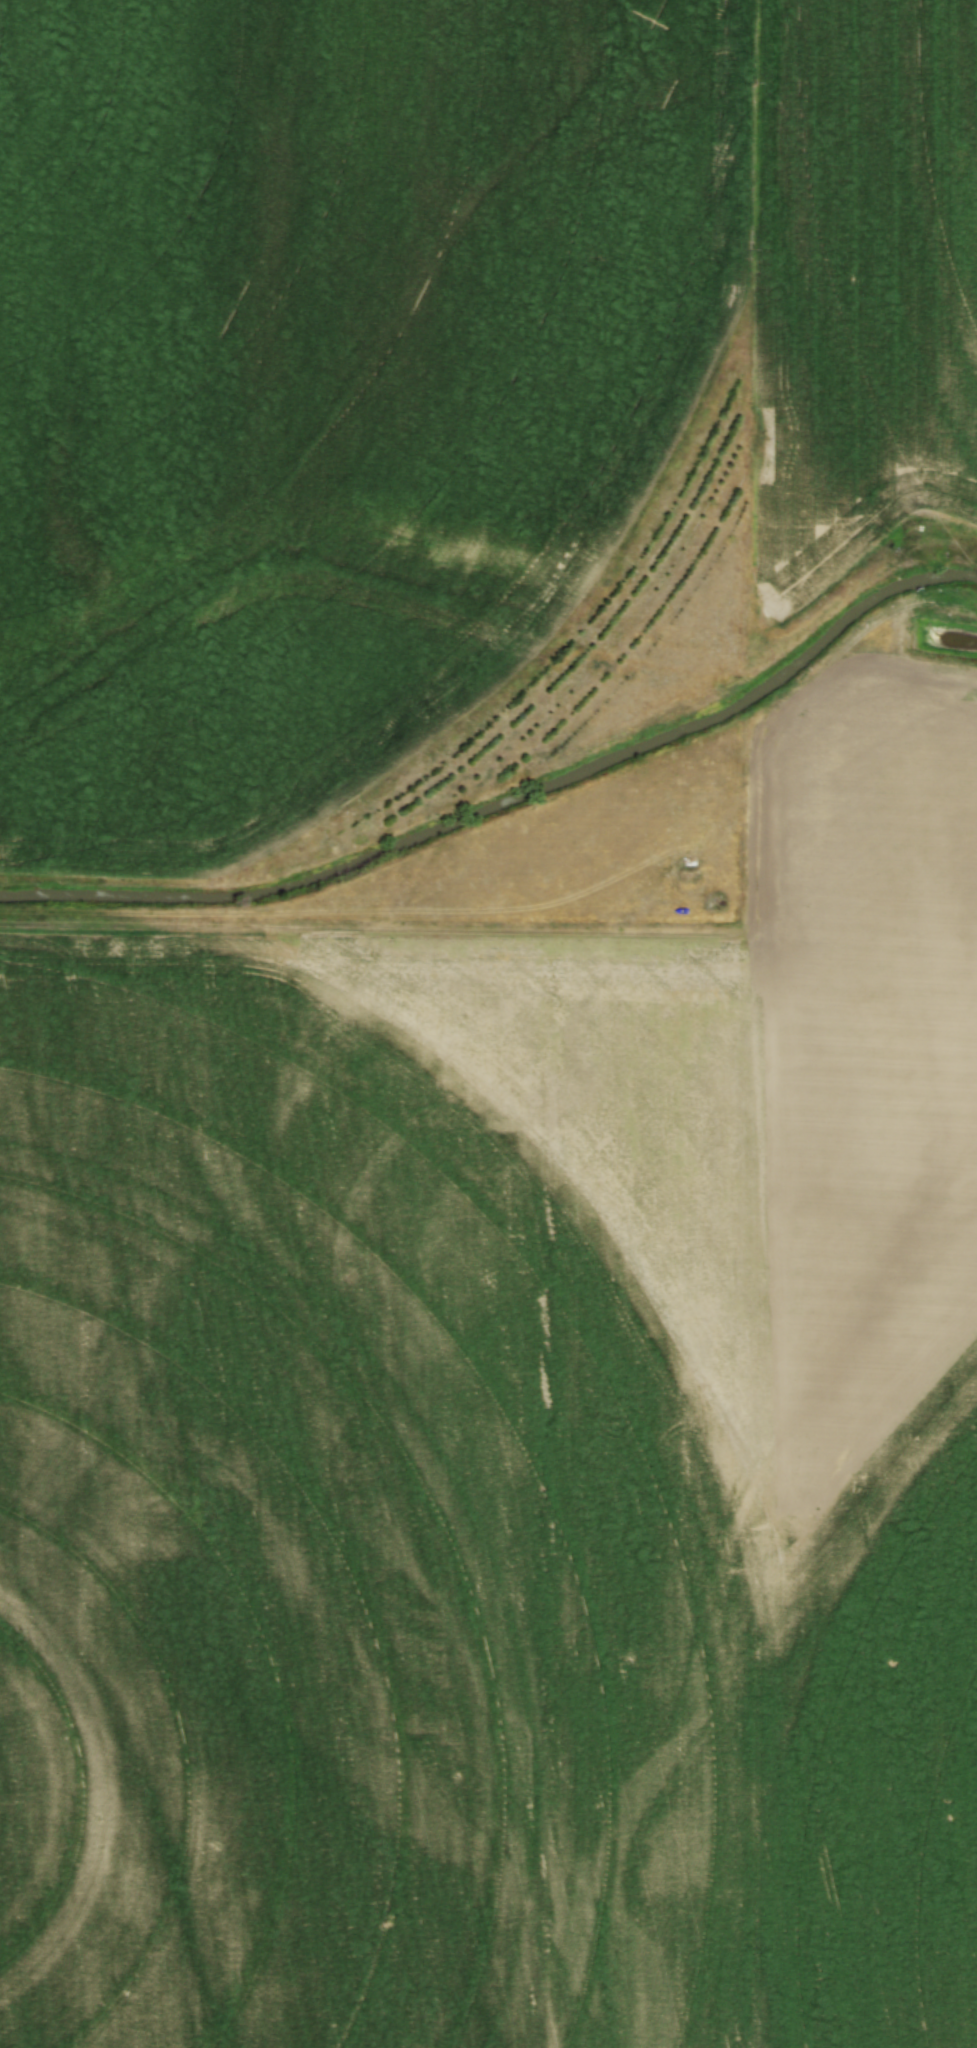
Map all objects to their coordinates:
crop: (429, 361)
crop: (506, 1458)

